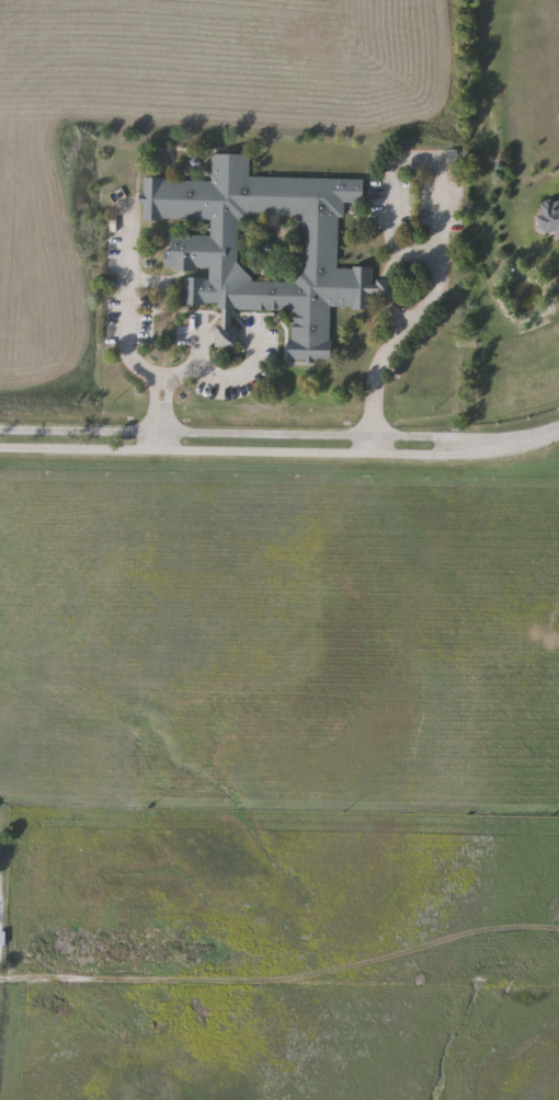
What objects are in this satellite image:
road: (419, 160)
building: (549, 217)
building: (264, 250)
road: (413, 253)
road: (427, 303)
road: (225, 334)
road: (124, 341)
road: (197, 347)
road: (233, 382)
road: (375, 398)
road: (541, 432)
road: (523, 438)
road: (278, 990)

